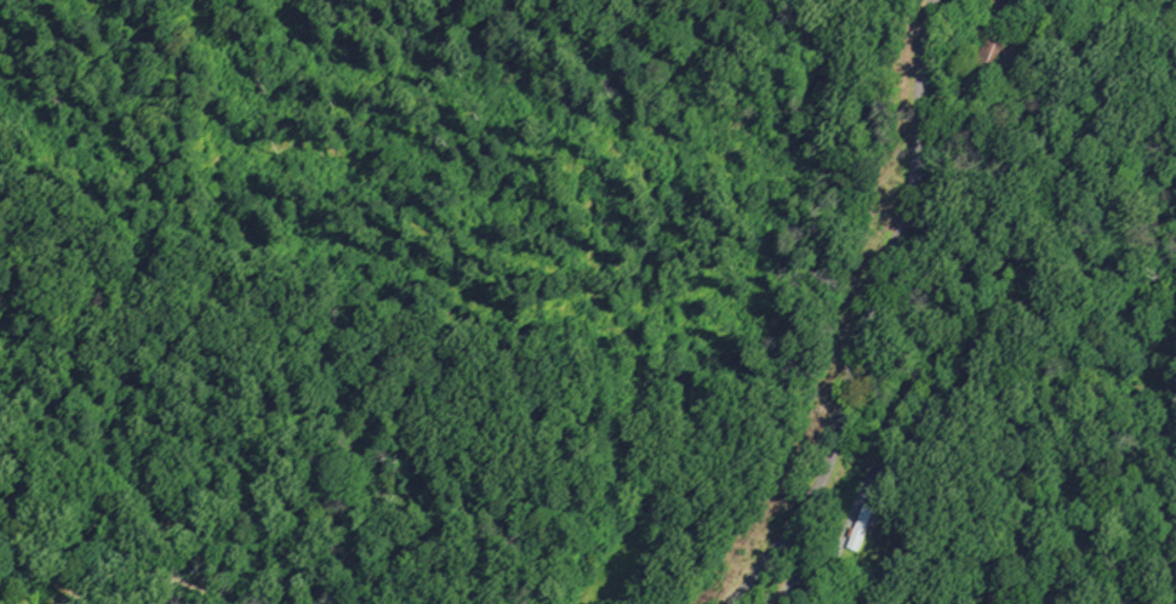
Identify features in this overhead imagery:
building: (993, 61)
road: (868, 315)
building: (863, 529)
road: (119, 565)
road: (828, 566)
road: (98, 588)

